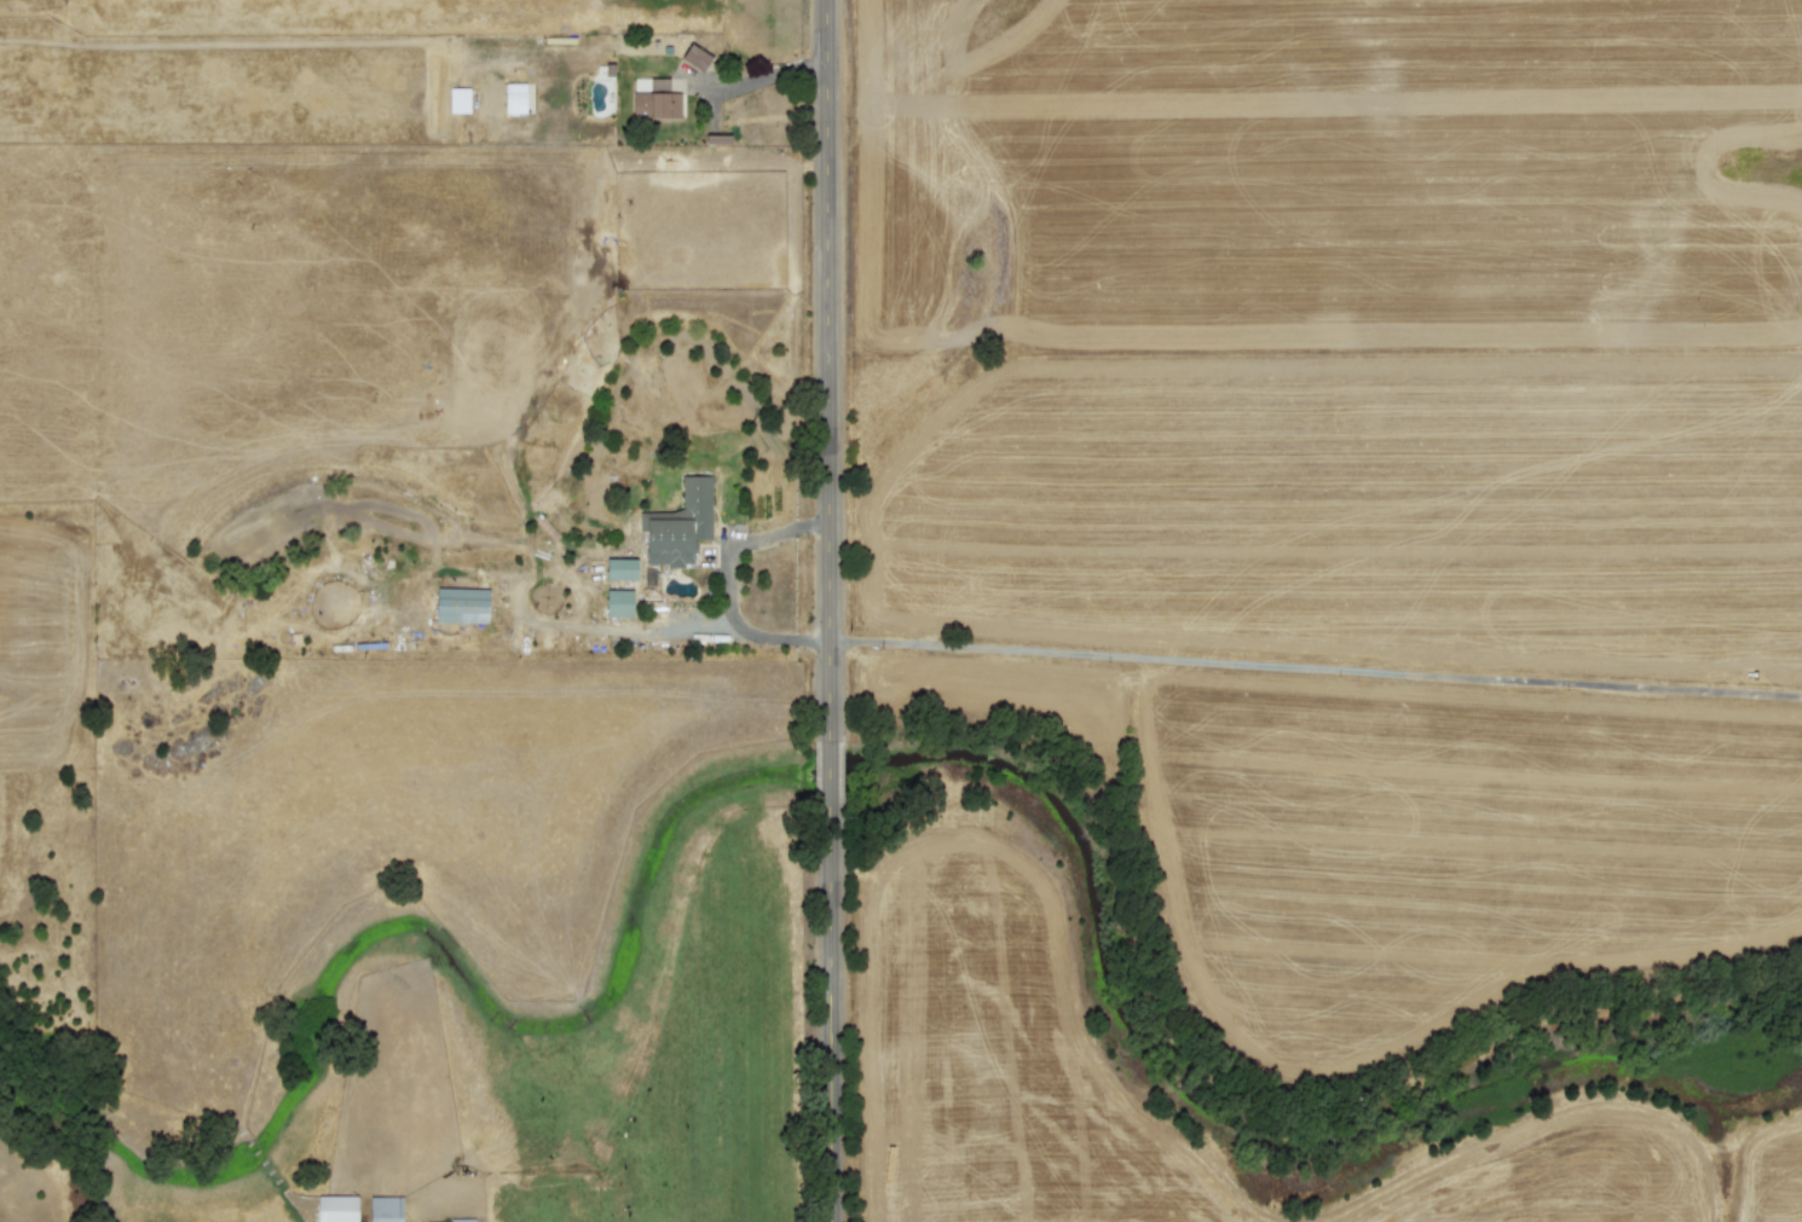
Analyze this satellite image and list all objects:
building: (694, 56)
road: (763, 76)
building: (513, 95)
building: (458, 99)
building: (655, 100)
building: (678, 523)
crop: (1091, 548)
building: (620, 567)
road: (727, 580)
building: (619, 602)
building: (461, 603)
road: (832, 610)
road: (1316, 665)
building: (336, 1207)
building: (385, 1209)
building: (461, 1220)

